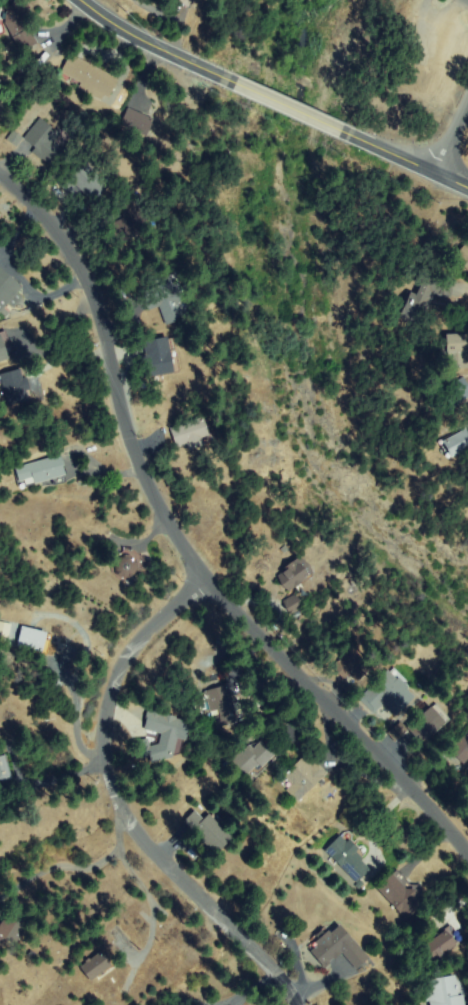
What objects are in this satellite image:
building: (177, 0)
road: (154, 8)
building: (18, 24)
road: (155, 44)
building: (91, 78)
building: (0, 82)
road: (290, 107)
building: (137, 122)
road: (451, 136)
building: (44, 141)
road: (408, 158)
building: (85, 180)
building: (129, 221)
building: (462, 257)
building: (7, 294)
building: (424, 296)
building: (167, 300)
building: (5, 347)
building: (456, 351)
building: (158, 359)
building: (16, 386)
building: (456, 393)
building: (192, 434)
building: (456, 443)
building: (43, 472)
road: (183, 541)
building: (127, 566)
building: (295, 574)
building: (292, 604)
building: (35, 641)
building: (353, 666)
building: (387, 694)
building: (223, 706)
building: (428, 723)
building: (398, 731)
building: (163, 737)
building: (462, 748)
building: (254, 757)
building: (3, 769)
building: (303, 777)
road: (117, 798)
building: (211, 830)
building: (349, 858)
building: (401, 893)
building: (12, 928)
building: (442, 943)
building: (337, 947)
building: (98, 965)
building: (446, 992)

